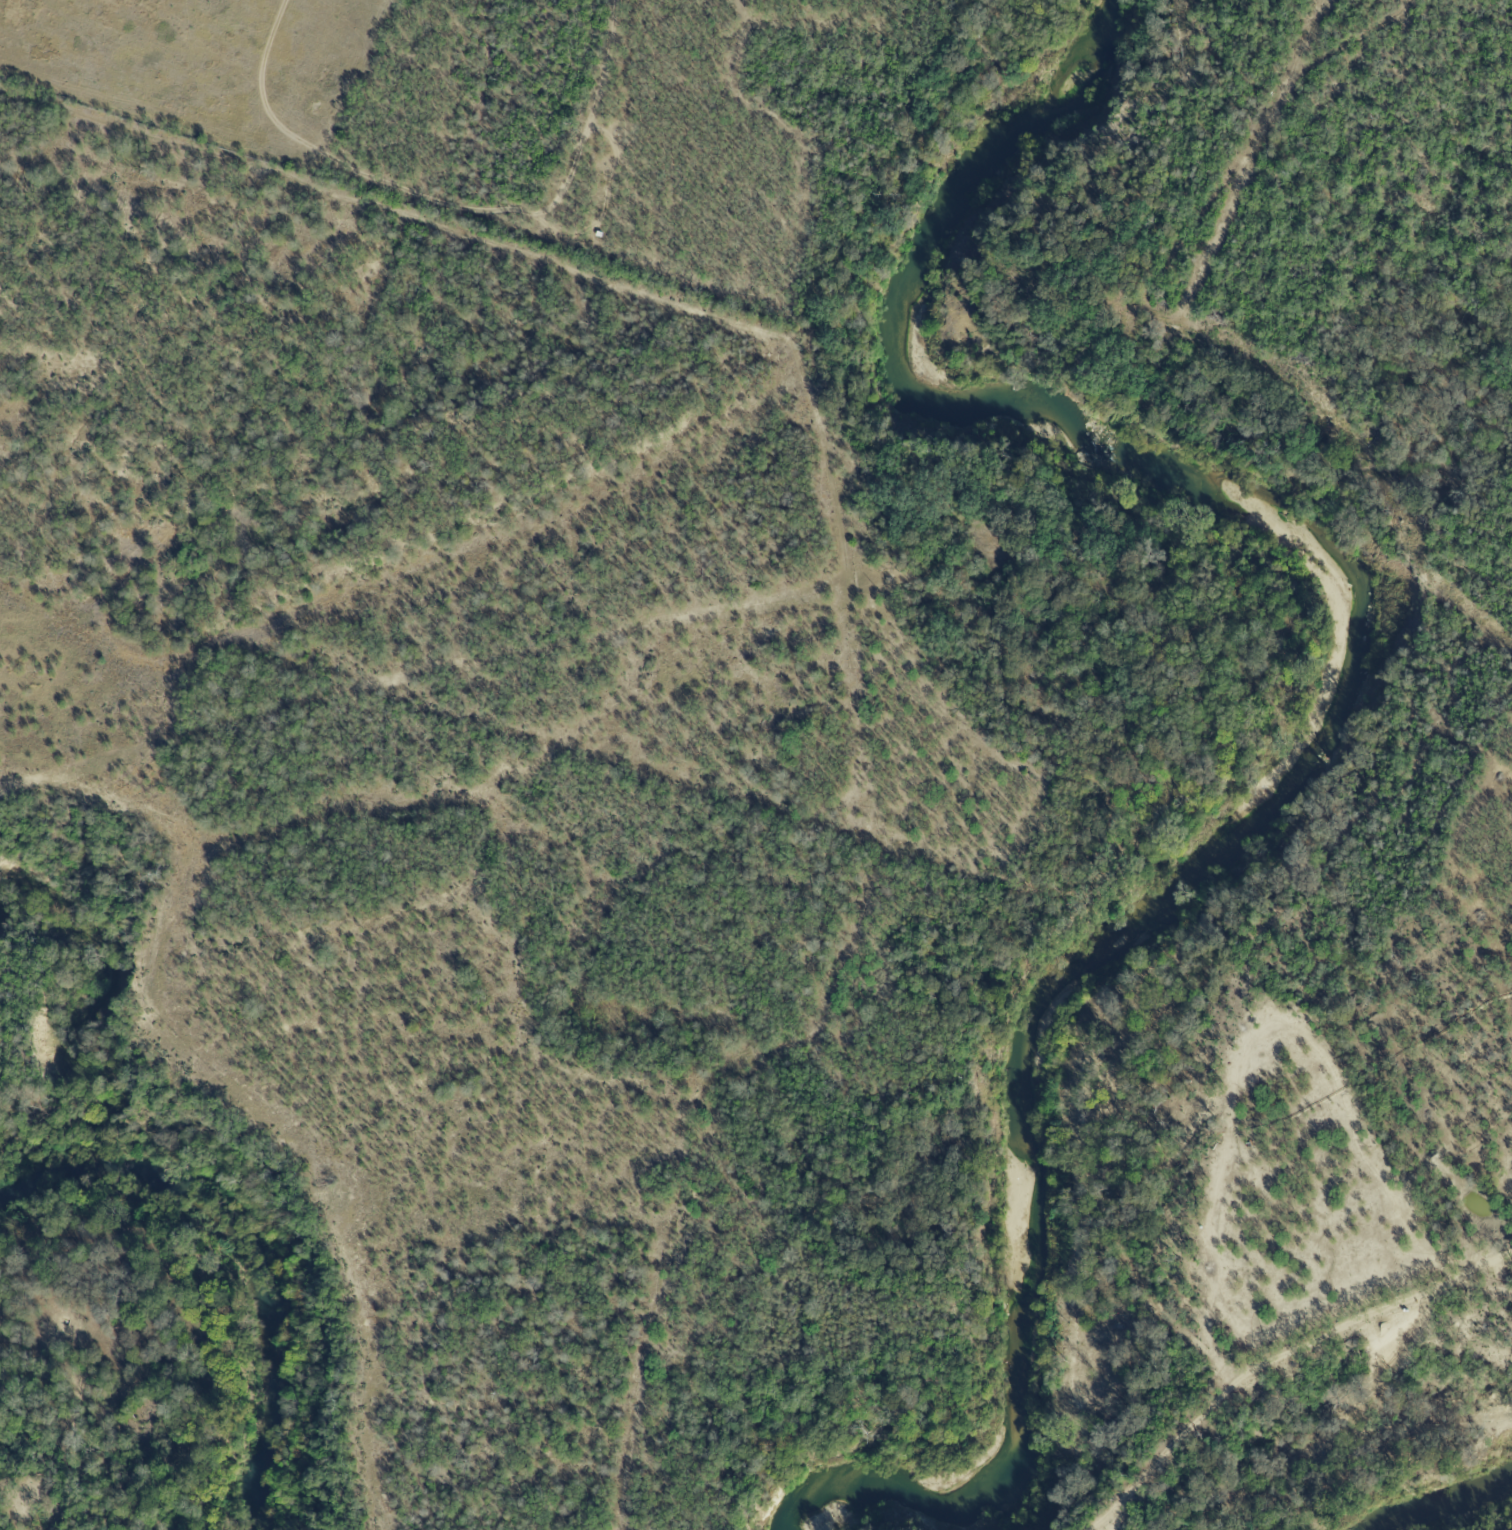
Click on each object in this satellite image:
river: (1330, 731)
river: (266, 1245)
river: (1450, 1511)

